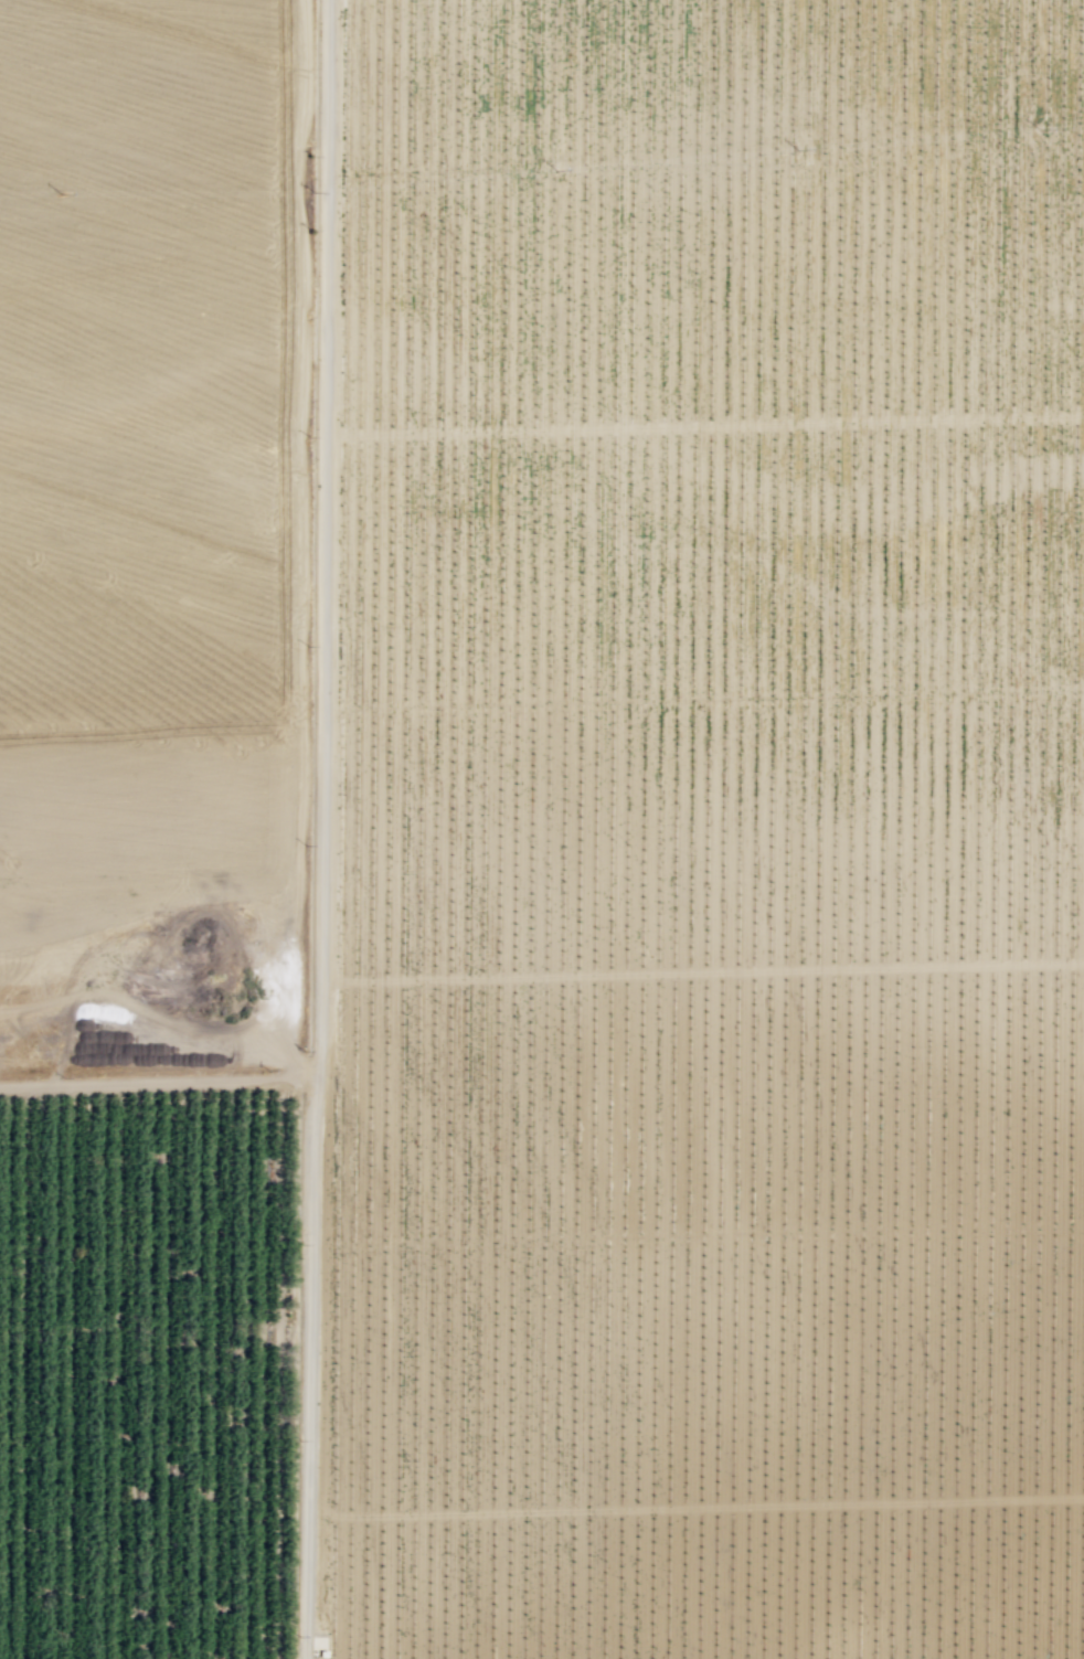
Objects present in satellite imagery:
road: (320, 829)
road: (786, 829)
crop: (695, 831)
road: (157, 1084)

